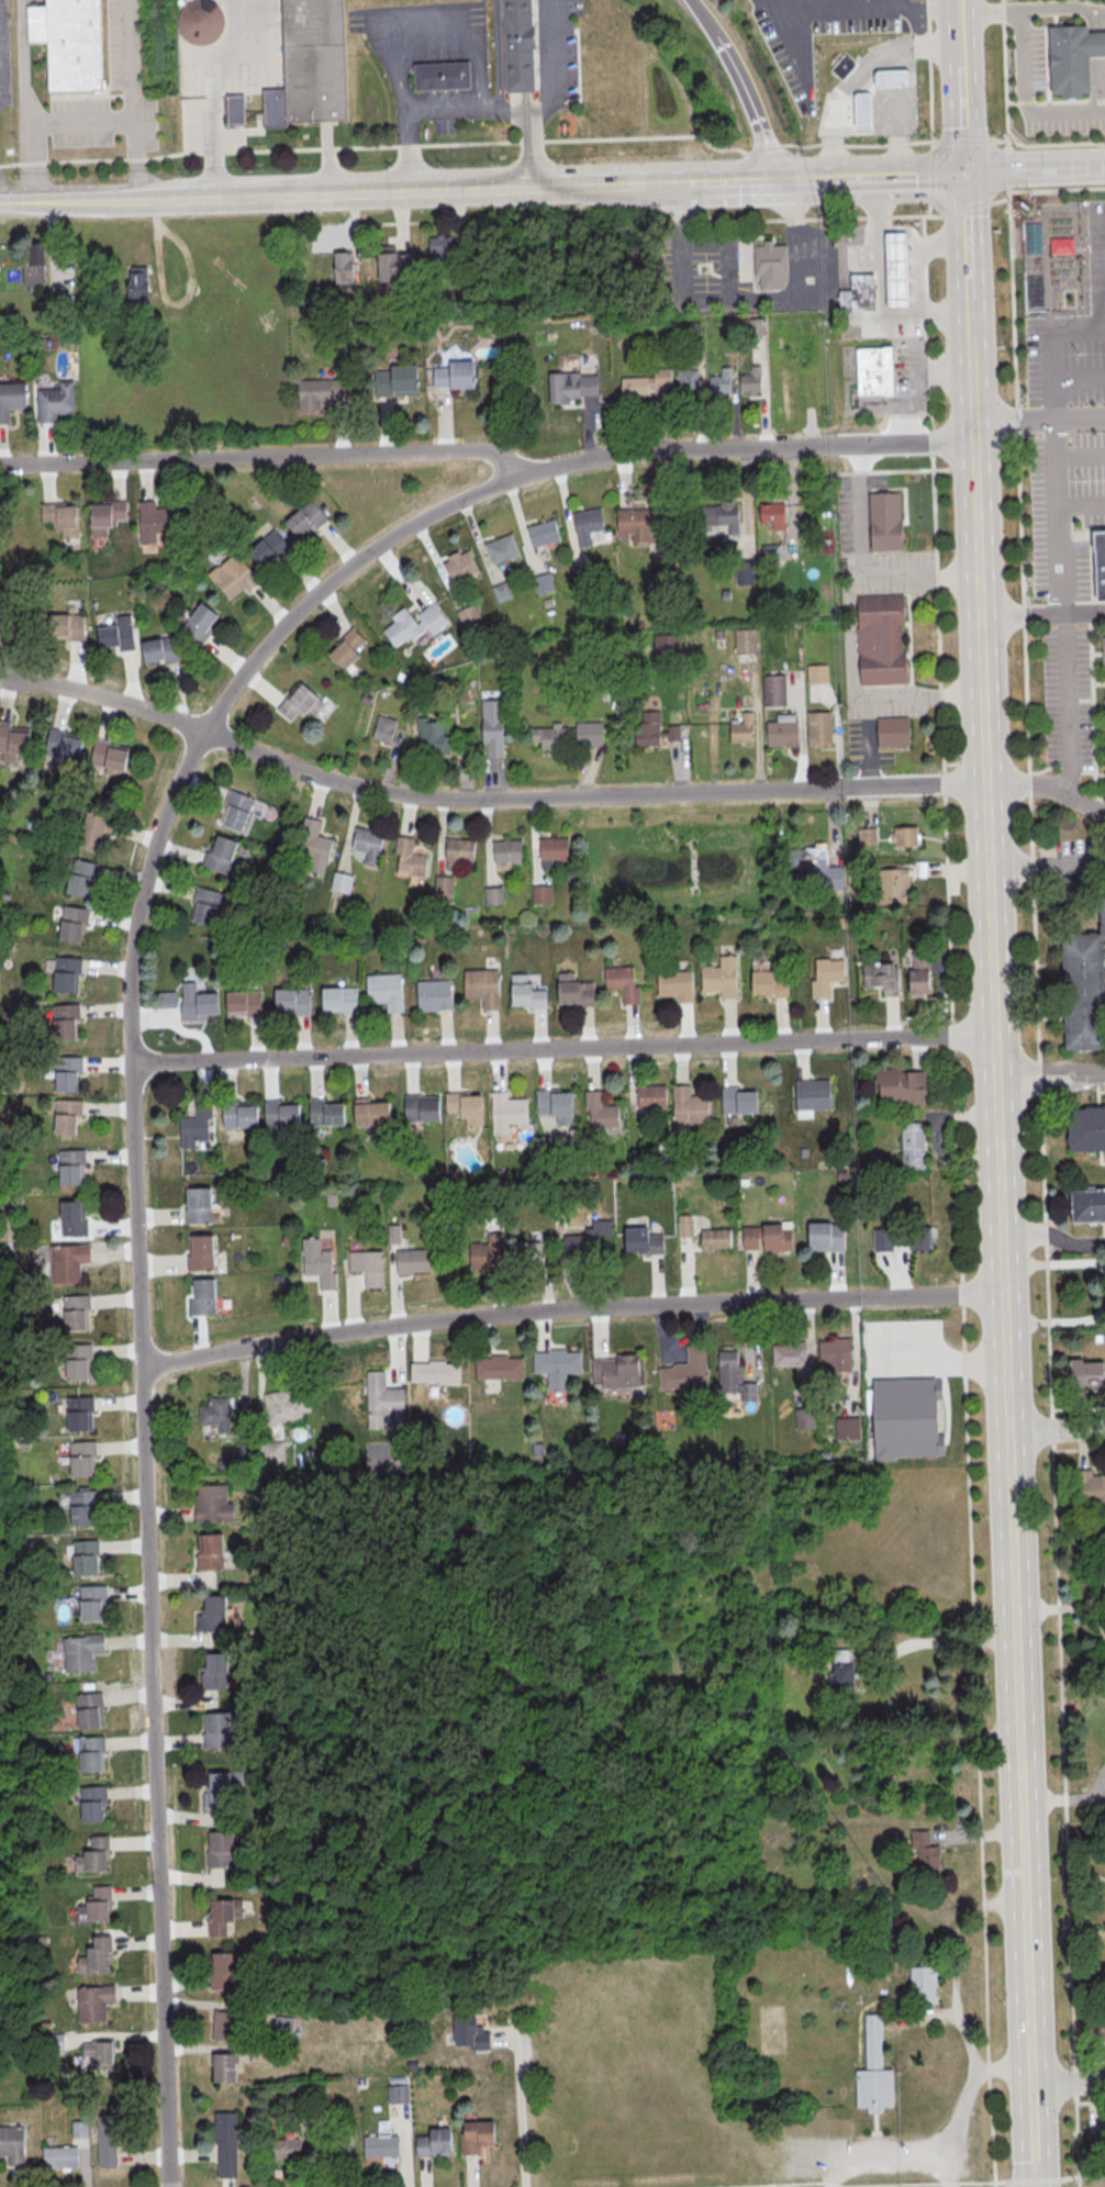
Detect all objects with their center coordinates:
building: (178, 2)
road: (782, 5)
road: (831, 7)
road: (1029, 8)
road: (699, 15)
building: (198, 22)
road: (953, 24)
building: (70, 43)
building: (516, 46)
road: (494, 51)
building: (1071, 59)
building: (308, 65)
building: (841, 67)
road: (927, 70)
road: (477, 72)
road: (1004, 75)
road: (395, 77)
building: (442, 77)
road: (858, 77)
building: (890, 80)
road: (130, 100)
road: (555, 100)
road: (1020, 100)
road: (22, 101)
road: (487, 101)
road: (750, 101)
road: (442, 104)
road: (512, 107)
building: (233, 110)
road: (959, 110)
building: (861, 112)
road: (77, 120)
road: (883, 132)
road: (997, 141)
road: (855, 144)
road: (376, 145)
road: (930, 145)
road: (763, 149)
road: (1006, 167)
road: (1034, 168)
traffic signals: (963, 171)
road: (870, 174)
road: (929, 176)
road: (739, 177)
road: (416, 188)
road: (1056, 190)
road: (997, 200)
road: (81, 202)
road: (14, 203)
road: (927, 209)
road: (963, 209)
road: (797, 219)
road: (966, 237)
building: (439, 249)
road: (914, 261)
building: (35, 263)
road: (879, 263)
building: (393, 265)
building: (772, 265)
building: (343, 269)
building: (895, 272)
road: (1078, 279)
building: (137, 283)
road: (800, 292)
building: (857, 294)
road: (968, 321)
road: (941, 322)
road: (1079, 330)
road: (941, 369)
building: (873, 372)
building: (454, 377)
building: (688, 379)
road: (1080, 380)
building: (395, 381)
building: (719, 381)
building: (751, 381)
building: (646, 382)
building: (573, 386)
road: (913, 391)
parking lot: (1065, 391)
building: (319, 393)
road: (1056, 394)
building: (12, 399)
building: (55, 401)
road: (1039, 420)
road: (490, 454)
road: (1082, 457)
road: (1082, 506)
building: (772, 513)
building: (108, 514)
building: (723, 515)
building: (60, 516)
building: (306, 520)
building: (155, 521)
building: (585, 522)
building: (888, 522)
building: (640, 524)
building: (542, 534)
building: (269, 548)
building: (500, 549)
building: (1097, 565)
building: (458, 567)
road: (857, 570)
building: (745, 571)
building: (582, 572)
building: (233, 576)
road: (916, 576)
building: (543, 582)
building: (502, 590)
building: (470, 617)
road: (1041, 617)
building: (200, 623)
building: (413, 624)
building: (68, 626)
building: (118, 634)
building: (883, 638)
building: (745, 639)
building: (667, 645)
building: (160, 649)
building: (347, 649)
building: (1102, 654)
building: (817, 672)
road: (2, 679)
building: (774, 690)
road: (917, 693)
building: (301, 702)
building: (1103, 712)
road: (1070, 713)
building: (492, 727)
building: (743, 727)
building: (819, 727)
building: (383, 728)
building: (782, 729)
building: (656, 730)
building: (588, 733)
building: (894, 733)
building: (429, 734)
building: (550, 736)
building: (12, 740)
building: (64, 744)
building: (110, 754)
road: (866, 756)
road: (1047, 786)
road: (485, 797)
building: (234, 811)
building: (96, 830)
building: (867, 835)
building: (904, 835)
building: (368, 844)
building: (313, 847)
building: (457, 850)
building: (551, 850)
building: (505, 851)
building: (220, 855)
building: (410, 857)
building: (813, 860)
road: (1098, 862)
road: (1040, 866)
building: (81, 875)
building: (342, 881)
building: (443, 884)
building: (894, 884)
building: (542, 893)
building: (493, 894)
building: (207, 905)
building: (72, 922)
building: (67, 973)
building: (824, 973)
building: (919, 974)
building: (879, 975)
building: (721, 977)
building: (766, 982)
building: (621, 983)
building: (674, 985)
building: (482, 986)
building: (1083, 988)
building: (384, 990)
building: (574, 990)
building: (524, 993)
building: (433, 996)
building: (337, 1000)
building: (291, 1001)
building: (198, 1002)
building: (243, 1003)
building: (65, 1020)
road: (563, 1046)
building: (68, 1072)
road: (1051, 1073)
building: (901, 1085)
building: (810, 1093)
building: (651, 1095)
building: (551, 1098)
building: (735, 1100)
building: (460, 1102)
building: (685, 1105)
building: (418, 1107)
building: (368, 1109)
building: (598, 1109)
building: (322, 1111)
building: (503, 1111)
building: (278, 1112)
building: (236, 1113)
building: (66, 1115)
building: (193, 1122)
building: (1086, 1130)
building: (913, 1146)
building: (71, 1164)
road: (1043, 1186)
road: (959, 1197)
building: (196, 1204)
building: (1089, 1206)
building: (69, 1218)
building: (684, 1226)
building: (826, 1236)
building: (591, 1237)
building: (767, 1237)
building: (715, 1238)
building: (902, 1238)
road: (1054, 1239)
building: (643, 1240)
road: (135, 1243)
building: (533, 1250)
building: (198, 1251)
building: (485, 1253)
building: (409, 1260)
building: (68, 1261)
road: (1003, 1262)
building: (316, 1263)
building: (365, 1264)
building: (199, 1295)
road: (570, 1307)
building: (76, 1310)
building: (835, 1353)
building: (790, 1354)
road: (944, 1357)
building: (78, 1360)
building: (554, 1361)
building: (496, 1368)
building: (683, 1369)
building: (613, 1370)
building: (1084, 1371)
building: (433, 1372)
building: (734, 1374)
building: (380, 1399)
building: (287, 1405)
road: (1076, 1407)
building: (80, 1411)
building: (215, 1411)
building: (805, 1417)
building: (906, 1419)
building: (847, 1428)
road: (1054, 1429)
road: (1078, 1448)
building: (274, 1451)
building: (81, 1457)
building: (1087, 1487)
building: (210, 1503)
building: (83, 1506)
building: (207, 1549)
building: (86, 1555)
building: (92, 1602)
road: (1060, 1607)
building: (209, 1613)
road: (935, 1640)
building: (78, 1651)
building: (841, 1667)
building: (211, 1669)
building: (88, 1708)
building: (213, 1729)
building: (90, 1752)
building: (214, 1789)
road: (1063, 1799)
building: (91, 1803)
building: (216, 1848)
building: (91, 1853)
building: (925, 1853)
building: (92, 1904)
building: (216, 1915)
building: (93, 1954)
building: (219, 1968)
building: (927, 1985)
building: (92, 2001)
building: (223, 2024)
building: (1094, 2024)
building: (467, 2032)
park: (772, 2032)
building: (51, 2043)
building: (96, 2053)
building: (258, 2053)
road: (1089, 2062)
building: (224, 2066)
building: (877, 2072)
road: (1068, 2082)
building: (770, 2090)
building: (395, 2094)
road: (517, 2100)
road: (1089, 2101)
building: (76, 2128)
building: (1098, 2131)
building: (472, 2134)
building: (104, 2139)
building: (431, 2142)
building: (11, 2143)
building: (226, 2143)
building: (378, 2145)
building: (331, 2146)
building: (280, 2147)
building: (57, 2156)
road: (945, 2156)
road: (946, 2172)
road: (897, 2183)

